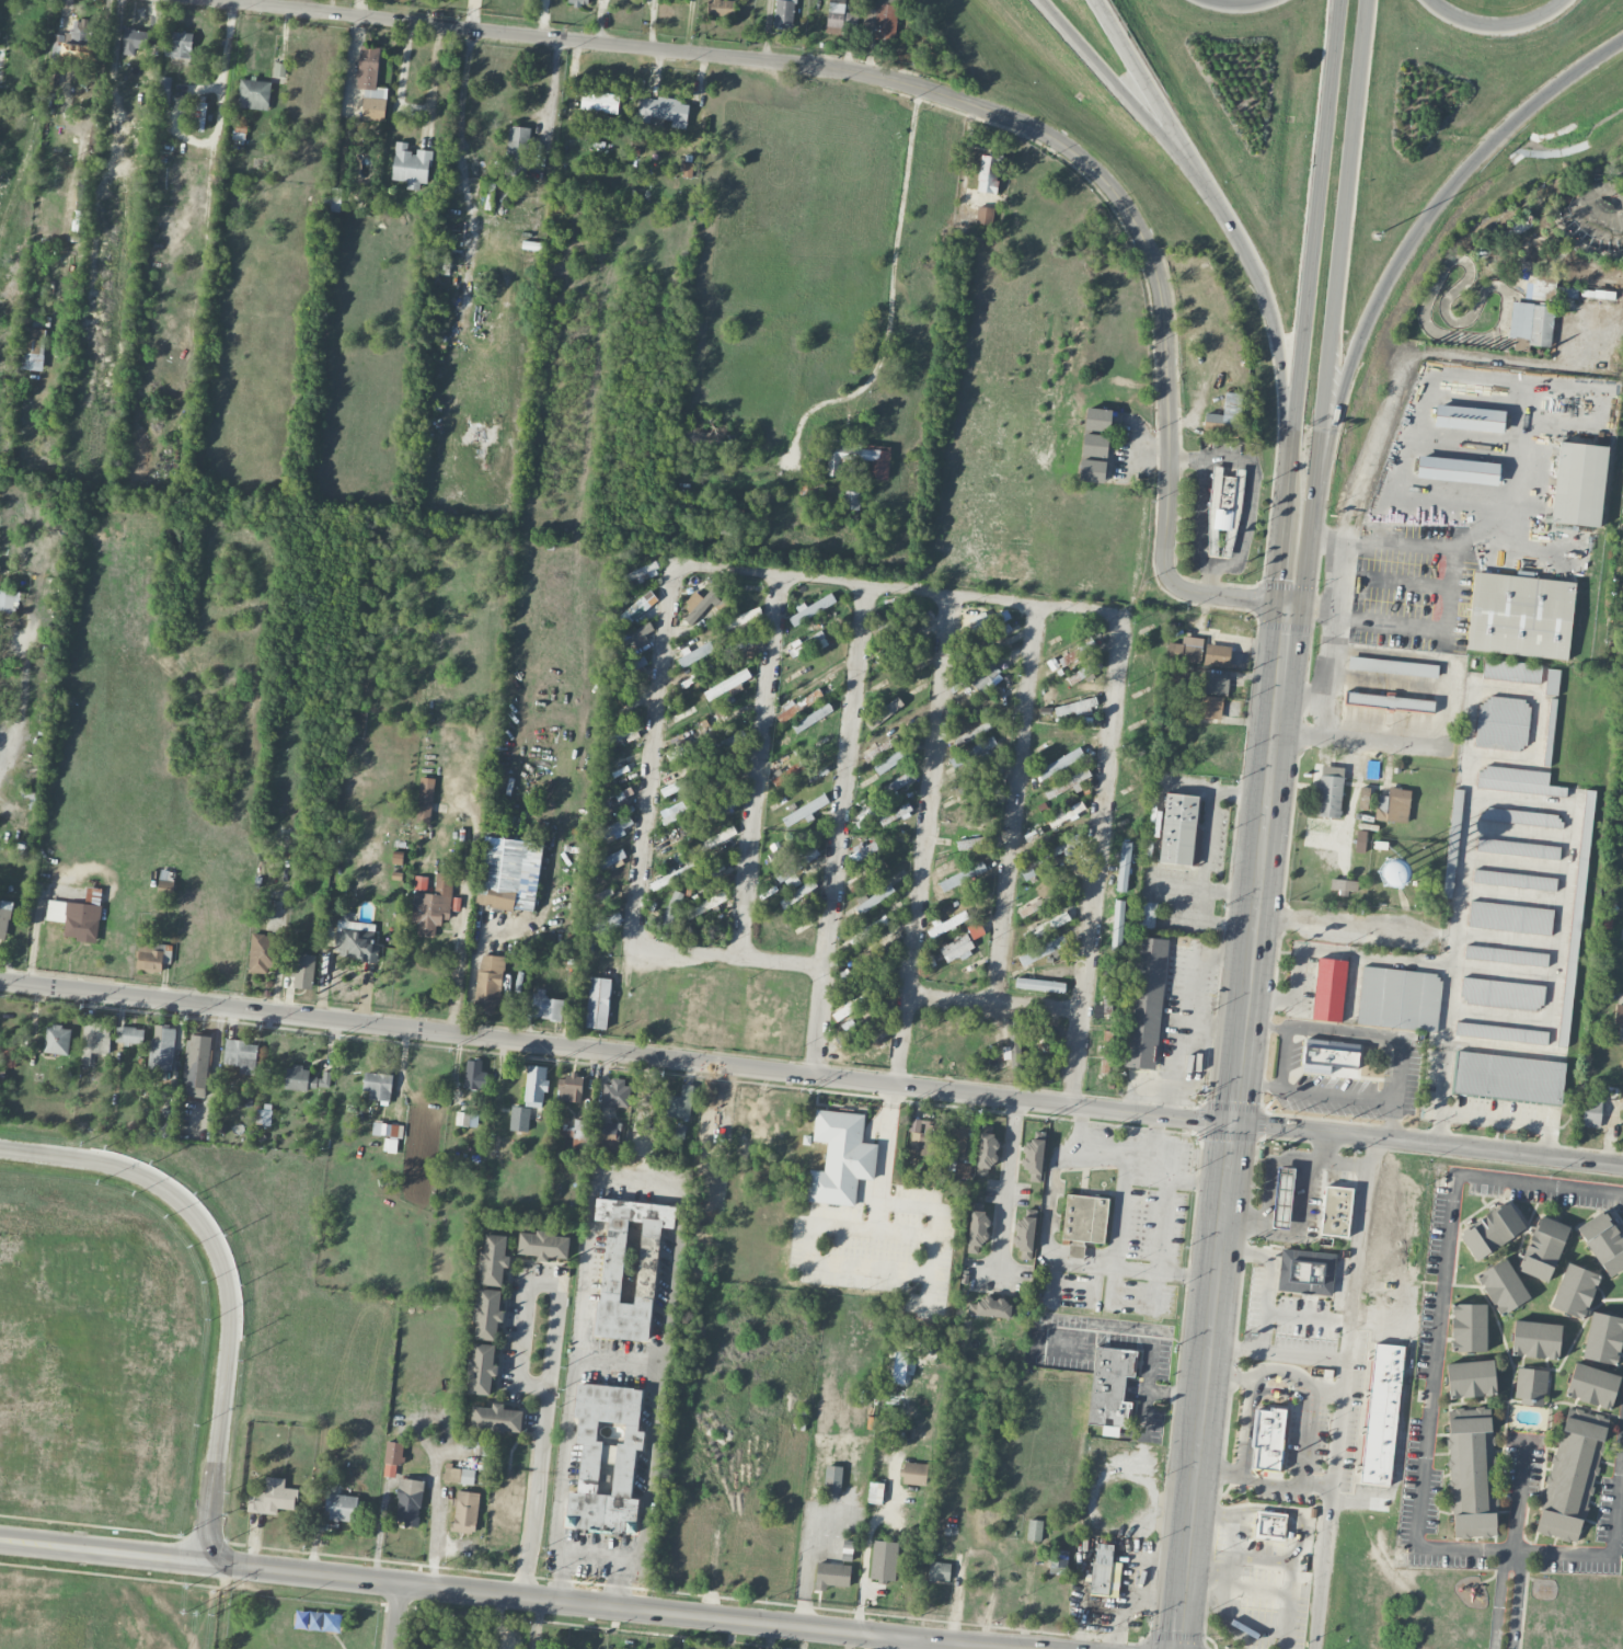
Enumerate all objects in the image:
building: (578, 2)
road: (1233, 7)
road: (358, 8)
building: (721, 8)
building: (784, 13)
building: (837, 15)
building: (886, 18)
road: (1501, 31)
building: (73, 34)
building: (135, 39)
building: (180, 47)
building: (2, 66)
building: (54, 72)
building: (370, 83)
building: (163, 89)
building: (254, 93)
road: (935, 93)
road: (1125, 95)
road: (1153, 95)
building: (599, 101)
road: (414, 107)
building: (663, 111)
building: (199, 115)
road: (219, 130)
building: (517, 150)
road: (462, 164)
building: (411, 165)
building: (988, 174)
building: (985, 215)
road: (1312, 232)
road: (1404, 257)
road: (1337, 275)
building: (1541, 289)
road: (888, 297)
road: (1273, 320)
building: (1540, 327)
building: (33, 348)
road: (1485, 357)
building: (1469, 417)
building: (1098, 419)
building: (1095, 445)
road: (1371, 449)
building: (861, 458)
building: (1092, 470)
building: (1458, 470)
building: (1578, 483)
road: (1281, 484)
road: (1248, 497)
building: (852, 500)
building: (1224, 502)
road: (1198, 515)
road: (1275, 553)
road: (1296, 576)
road: (1450, 595)
building: (8, 600)
building: (701, 602)
building: (638, 603)
traffic signals: (1286, 603)
building: (810, 609)
building: (1520, 615)
building: (740, 618)
building: (986, 619)
road: (668, 627)
building: (636, 637)
building: (809, 643)
building: (1185, 650)
building: (695, 653)
building: (1077, 653)
building: (1217, 653)
building: (1392, 666)
building: (1511, 669)
building: (983, 675)
building: (1551, 682)
building: (1216, 684)
road: (1330, 687)
building: (1389, 701)
building: (1075, 708)
building: (1209, 709)
building: (884, 711)
building: (811, 718)
building: (1503, 723)
building: (624, 731)
road: (1360, 742)
building: (702, 745)
building: (882, 748)
building: (972, 751)
building: (891, 759)
building: (1060, 763)
road: (759, 766)
road: (1622, 769)
building: (787, 771)
building: (1516, 779)
building: (979, 782)
building: (1067, 782)
building: (680, 783)
building: (1330, 791)
building: (425, 798)
road: (1016, 803)
building: (1393, 805)
building: (721, 808)
building: (805, 810)
building: (887, 813)
building: (1066, 814)
building: (1521, 816)
building: (1181, 828)
building: (612, 829)
road: (840, 831)
road: (1572, 832)
building: (717, 838)
road: (925, 840)
building: (1452, 840)
building: (1518, 847)
building: (1060, 848)
building: (862, 851)
building: (608, 859)
road: (1097, 859)
building: (796, 863)
building: (875, 871)
water tower: (1393, 871)
building: (1391, 872)
building: (509, 873)
building: (963, 875)
building: (1513, 879)
building: (421, 882)
building: (1344, 885)
building: (797, 893)
building: (875, 897)
building: (705, 904)
building: (433, 905)
building: (672, 906)
building: (1147, 914)
building: (1509, 916)
building: (4, 917)
building: (1576, 917)
building: (76, 918)
building: (947, 924)
building: (1117, 924)
road: (1325, 925)
building: (1046, 926)
building: (868, 930)
building: (355, 940)
building: (957, 948)
building: (1041, 950)
building: (265, 952)
building: (1506, 954)
building: (151, 957)
road: (1294, 970)
building: (302, 971)
road: (456, 974)
road: (472, 981)
building: (488, 982)
road: (1352, 982)
building: (1039, 984)
building: (1330, 988)
road: (1448, 990)
building: (1501, 993)
building: (1398, 997)
road: (995, 1001)
building: (1146, 1001)
building: (598, 1003)
building: (1108, 1005)
building: (545, 1006)
building: (1619, 1019)
road: (1263, 1024)
building: (1034, 1032)
building: (1501, 1032)
building: (863, 1033)
building: (129, 1034)
road: (1392, 1037)
building: (57, 1039)
building: (94, 1040)
building: (1016, 1045)
building: (162, 1046)
building: (241, 1055)
building: (1332, 1056)
building: (196, 1065)
building: (474, 1075)
road: (810, 1076)
building: (1509, 1077)
building: (304, 1078)
road: (1280, 1079)
building: (534, 1085)
building: (378, 1086)
building: (571, 1088)
building: (615, 1092)
road: (1337, 1093)
building: (680, 1102)
building: (1591, 1112)
building: (263, 1116)
building: (462, 1118)
building: (519, 1118)
road: (1493, 1118)
building: (165, 1122)
traffic signals: (1230, 1124)
road: (1229, 1125)
building: (388, 1129)
building: (578, 1130)
building: (608, 1134)
building: (962, 1141)
building: (390, 1144)
building: (987, 1152)
road: (1113, 1152)
building: (840, 1157)
building: (1033, 1158)
building: (962, 1170)
road: (1181, 1180)
road: (642, 1186)
road: (1005, 1192)
building: (1282, 1198)
building: (1336, 1211)
road: (876, 1216)
building: (1083, 1221)
building: (978, 1229)
building: (1492, 1229)
building: (1024, 1236)
building: (1603, 1241)
building: (543, 1245)
building: (1543, 1247)
road: (1156, 1251)
building: (493, 1259)
building: (630, 1264)
building: (1305, 1271)
road: (911, 1274)
road: (1270, 1276)
road: (227, 1279)
building: (1501, 1285)
building: (1575, 1290)
building: (990, 1307)
building: (487, 1315)
road: (1309, 1317)
building: (1467, 1326)
building: (1602, 1337)
building: (1535, 1338)
road: (1276, 1351)
road: (618, 1361)
road: (551, 1362)
building: (899, 1366)
building: (481, 1369)
building: (1471, 1377)
building: (1591, 1384)
road: (1325, 1385)
building: (1530, 1385)
building: (1110, 1389)
road: (1343, 1394)
road: (1305, 1406)
building: (1381, 1412)
road: (1429, 1415)
building: (496, 1418)
building: (1268, 1436)
road: (1243, 1448)
building: (394, 1452)
building: (606, 1457)
building: (390, 1470)
building: (1471, 1471)
building: (914, 1473)
building: (1572, 1473)
building: (459, 1474)
building: (832, 1479)
road: (1316, 1480)
building: (875, 1492)
building: (273, 1497)
road: (1519, 1500)
building: (408, 1501)
building: (342, 1507)
building: (465, 1511)
building: (1269, 1524)
road: (1301, 1525)
building: (1034, 1530)
road: (103, 1549)
road: (1228, 1551)
road: (1511, 1556)
road: (594, 1557)
building: (884, 1560)
building: (1058, 1561)
building: (1104, 1568)
building: (939, 1570)
building: (831, 1574)
road: (610, 1605)
road: (223, 1606)
road: (1227, 1613)
road: (396, 1615)
road: (901, 1642)

